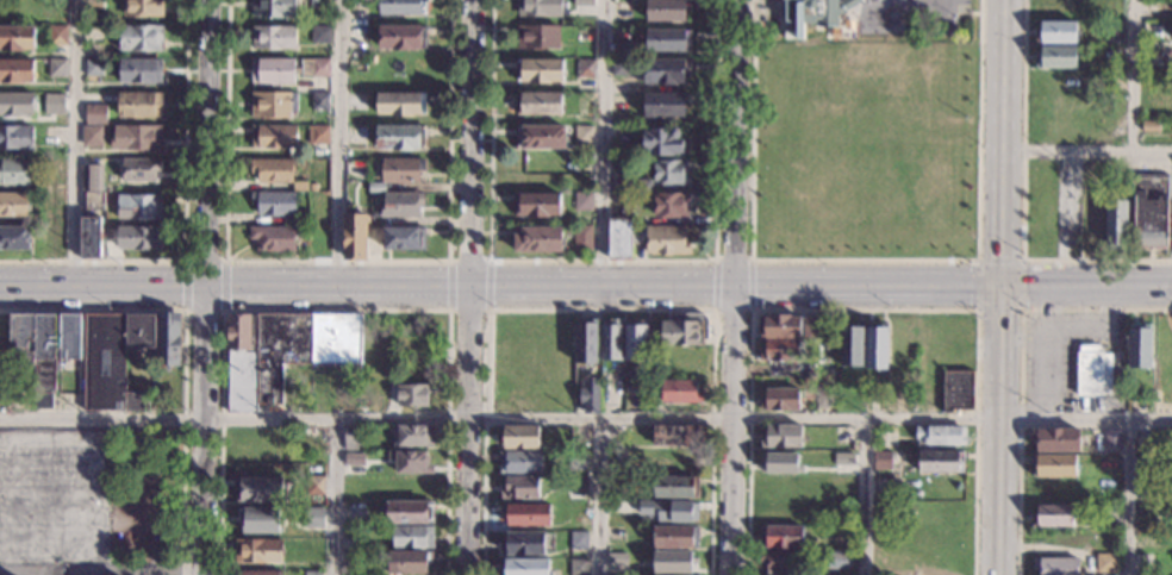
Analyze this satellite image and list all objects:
building: (582, 2)
building: (318, 4)
building: (357, 6)
road: (869, 6)
road: (894, 6)
building: (94, 7)
building: (400, 7)
building: (142, 8)
building: (273, 8)
building: (540, 8)
building: (667, 10)
road: (914, 11)
building: (818, 12)
building: (1114, 31)
building: (93, 33)
building: (1055, 33)
building: (319, 35)
building: (56, 36)
building: (537, 37)
building: (17, 38)
building: (139, 38)
building: (274, 38)
building: (401, 38)
building: (668, 40)
building: (621, 49)
building: (1055, 57)
building: (57, 68)
building: (92, 68)
building: (319, 68)
building: (585, 68)
building: (619, 68)
building: (15, 70)
building: (540, 70)
building: (666, 70)
building: (139, 71)
building: (273, 71)
road: (1133, 75)
building: (56, 99)
building: (319, 101)
building: (273, 104)
building: (399, 104)
building: (540, 104)
building: (665, 104)
building: (17, 105)
building: (139, 105)
building: (95, 114)
building: (1149, 126)
building: (317, 135)
building: (92, 136)
building: (584, 136)
building: (274, 137)
building: (541, 137)
building: (17, 138)
building: (136, 138)
building: (400, 138)
road: (74, 143)
road: (207, 143)
road: (337, 143)
road: (473, 143)
road: (601, 143)
building: (665, 143)
road: (1085, 150)
building: (139, 170)
building: (273, 170)
building: (400, 171)
building: (15, 173)
building: (672, 173)
building: (642, 186)
building: (623, 187)
building: (92, 188)
building: (375, 188)
building: (582, 201)
building: (273, 202)
building: (538, 205)
building: (672, 205)
road: (1021, 205)
building: (14, 206)
building: (401, 206)
building: (139, 207)
building: (54, 208)
building: (1151, 211)
building: (298, 221)
road: (185, 223)
building: (1117, 223)
building: (1091, 232)
building: (355, 236)
building: (91, 237)
building: (138, 238)
building: (582, 238)
building: (14, 239)
building: (273, 239)
building: (404, 239)
building: (538, 239)
road: (601, 258)
road: (733, 258)
road: (865, 260)
road: (204, 261)
road: (468, 261)
road: (977, 261)
road: (336, 262)
road: (750, 283)
road: (822, 283)
traffic signals: (999, 283)
road: (185, 285)
road: (488, 285)
road: (713, 285)
road: (224, 286)
road: (448, 286)
road: (102, 287)
road: (339, 287)
road: (735, 287)
road: (999, 287)
road: (204, 310)
road: (336, 310)
road: (468, 310)
road: (862, 310)
road: (600, 311)
road: (731, 311)
building: (785, 326)
building: (685, 331)
building: (611, 339)
building: (167, 340)
building: (586, 343)
building: (635, 343)
building: (850, 345)
building: (303, 346)
building: (875, 348)
building: (42, 349)
building: (1139, 349)
road: (183, 350)
building: (780, 350)
building: (681, 358)
building: (113, 361)
building: (239, 364)
road: (1020, 367)
building: (1092, 371)
building: (604, 374)
building: (956, 390)
building: (681, 392)
building: (414, 395)
building: (590, 395)
building: (825, 398)
building: (780, 400)
building: (19, 401)
road: (585, 418)
road: (472, 430)
road: (205, 431)
building: (677, 435)
building: (413, 436)
building: (520, 436)
building: (940, 436)
building: (783, 437)
building: (351, 438)
building: (1055, 439)
building: (1112, 439)
building: (843, 457)
building: (883, 460)
building: (578, 461)
building: (410, 462)
building: (677, 462)
building: (940, 462)
building: (520, 463)
building: (779, 463)
building: (353, 464)
building: (1054, 465)
building: (316, 486)
building: (579, 486)
building: (617, 486)
building: (675, 486)
building: (519, 488)
building: (258, 489)
road: (332, 496)
road: (599, 496)
road: (865, 498)
road: (1129, 498)
building: (669, 511)
building: (410, 512)
building: (525, 514)
building: (1053, 515)
building: (316, 517)
building: (264, 519)
building: (412, 537)
building: (675, 537)
building: (781, 537)
building: (578, 539)
building: (529, 543)
building: (258, 551)
building: (617, 558)
building: (350, 560)
building: (835, 560)
building: (409, 561)
building: (778, 561)
building: (675, 562)
building: (1105, 562)
building: (1055, 565)
building: (525, 567)
building: (579, 567)
road: (101, 571)
road: (154, 573)
building: (257, 573)
building: (312, 574)
building: (1106, 574)

